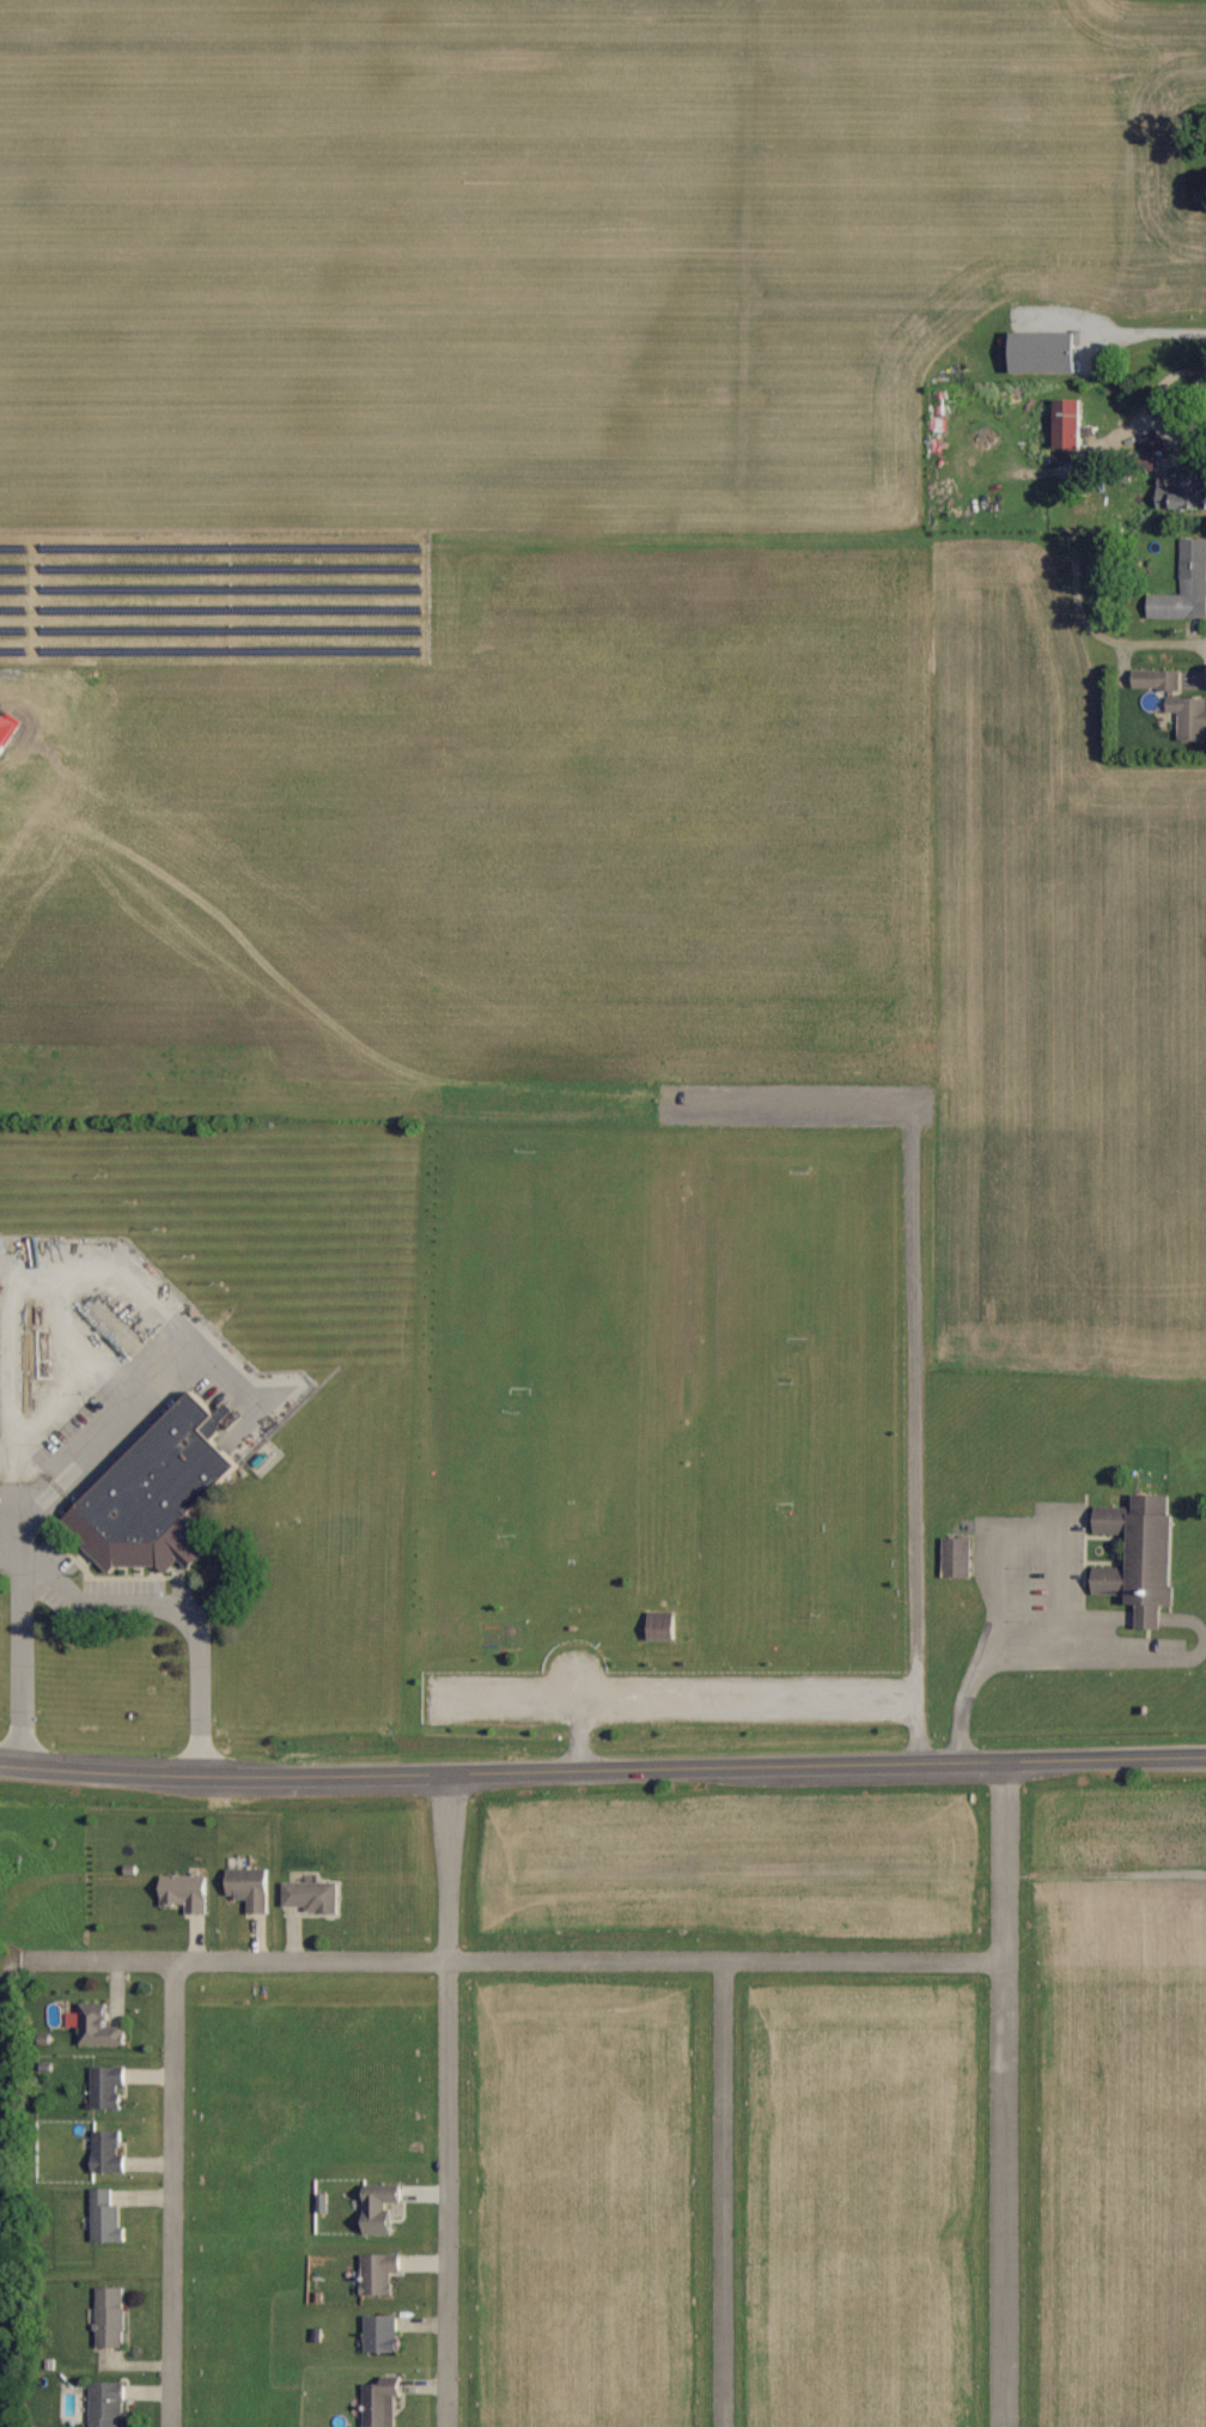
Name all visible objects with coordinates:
building: (1046, 354)
building: (1068, 425)
road: (1127, 433)
building: (1183, 496)
building: (1184, 587)
road: (1163, 639)
building: (1157, 679)
building: (1189, 717)
park: (805, 1238)
park: (548, 1261)
park: (792, 1412)
building: (157, 1494)
road: (16, 1515)
road: (1003, 1534)
building: (1141, 1555)
building: (957, 1558)
park: (839, 1571)
park: (500, 1572)
park: (749, 1584)
road: (187, 1607)
building: (662, 1626)
road: (743, 1689)
road: (602, 1768)
building: (250, 1889)
building: (185, 1893)
building: (312, 1898)
road: (514, 1961)
building: (97, 2027)
building: (108, 2088)
road: (1004, 2093)
road: (444, 2099)
building: (108, 2152)
road: (170, 2194)
road: (721, 2194)
building: (380, 2207)
building: (106, 2217)
building: (111, 2316)
building: (382, 2334)
building: (382, 2401)
building: (108, 2404)

